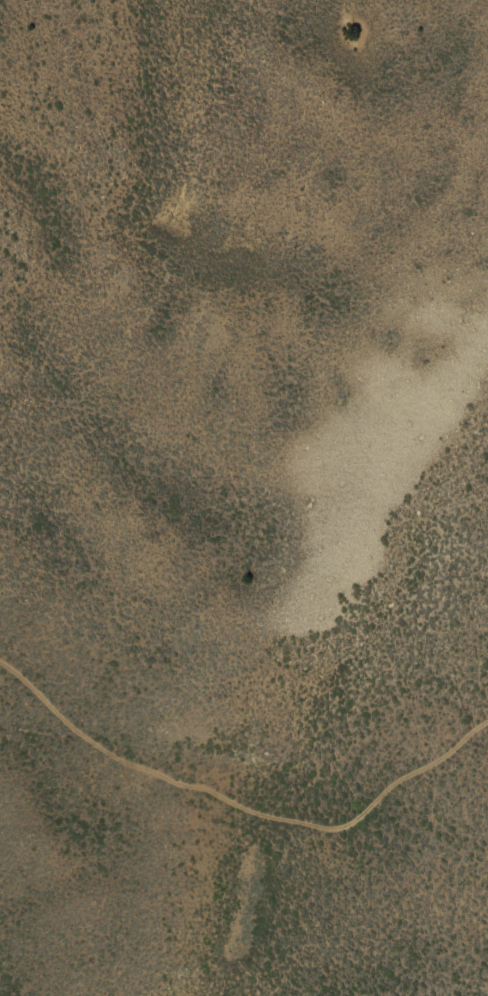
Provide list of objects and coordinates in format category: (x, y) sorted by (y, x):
road: (241, 809)

